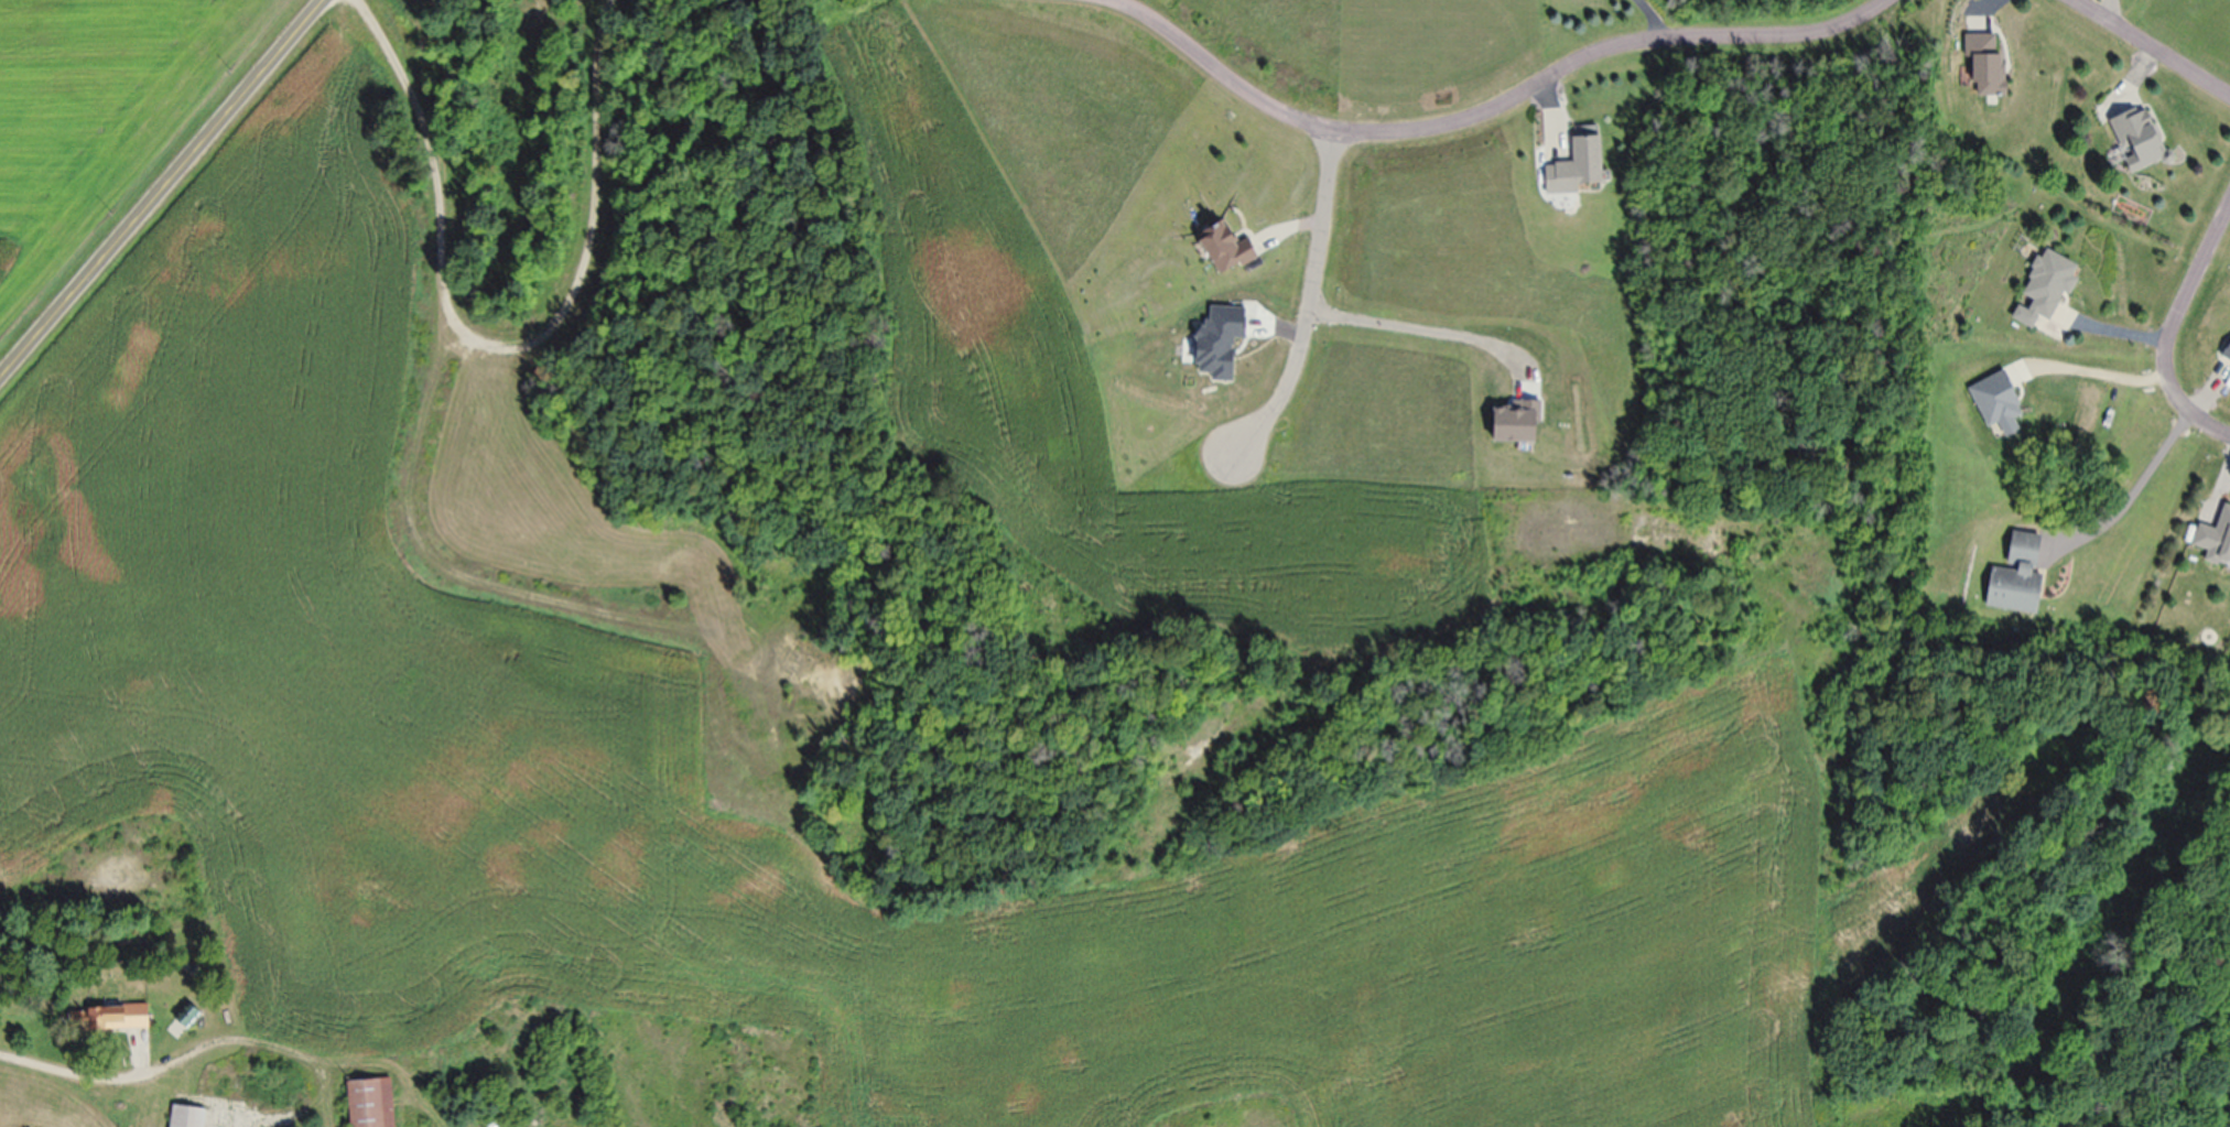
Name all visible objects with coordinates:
road: (1653, 20)
road: (2142, 53)
building: (1983, 67)
road: (1477, 121)
building: (2135, 142)
building: (1573, 170)
road: (161, 189)
building: (1223, 253)
building: (2044, 291)
road: (1308, 307)
road: (2167, 332)
building: (2227, 356)
road: (2088, 368)
road: (2125, 486)
building: (2215, 542)
crop: (1438, 554)
building: (2014, 581)
building: (105, 1022)
road: (154, 1061)
building: (368, 1105)
building: (185, 1118)

